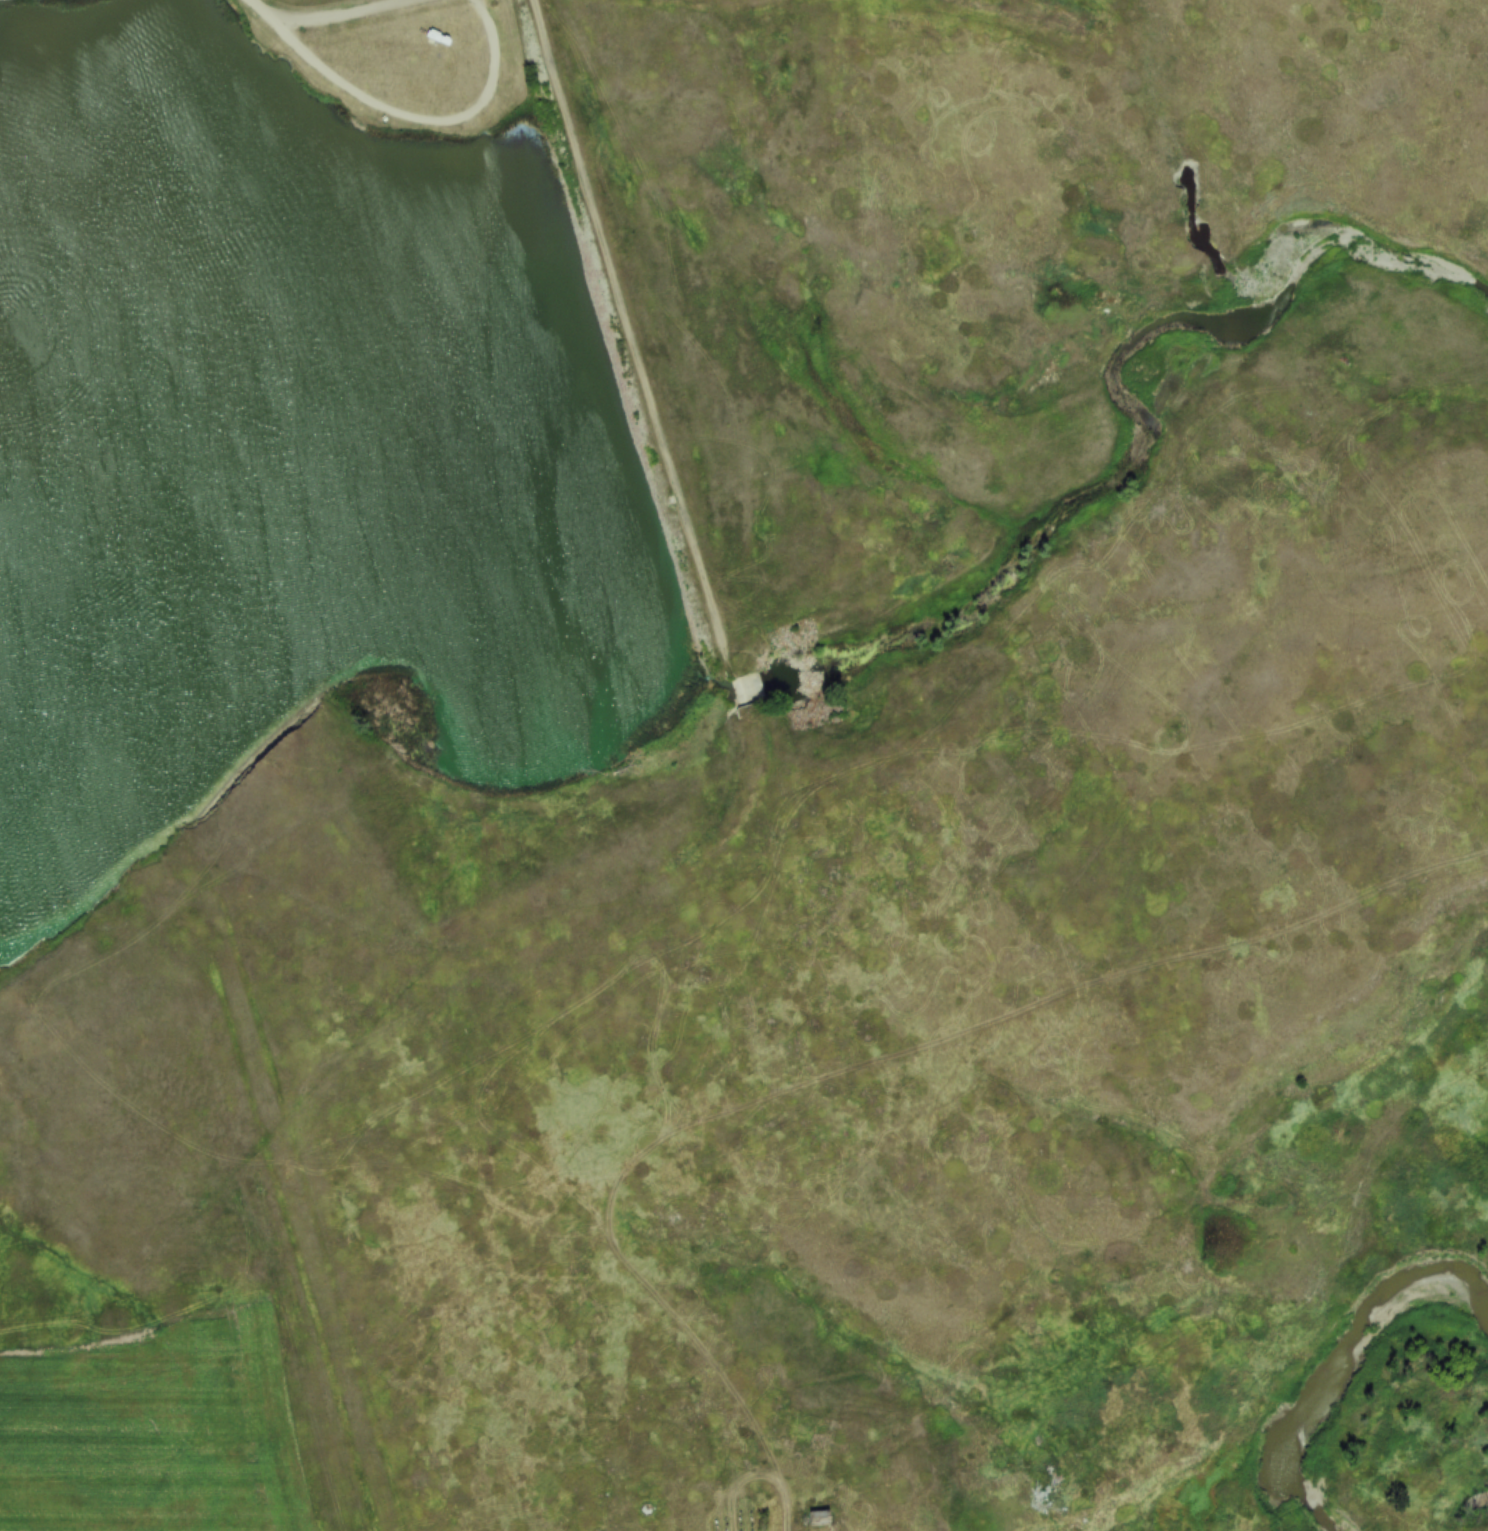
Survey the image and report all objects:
road: (331, 20)
dam: (610, 395)
road: (397, 1034)
building: (819, 1520)

